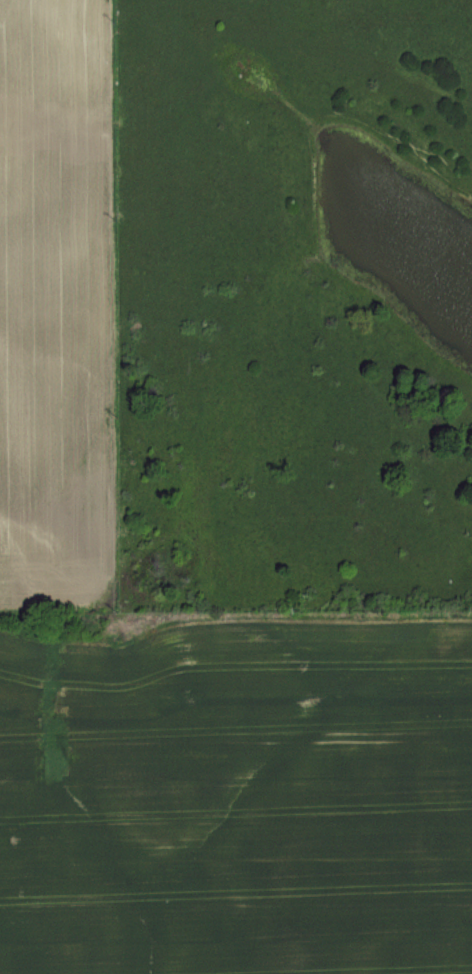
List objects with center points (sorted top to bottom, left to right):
crop: (57, 305)
crop: (236, 790)

